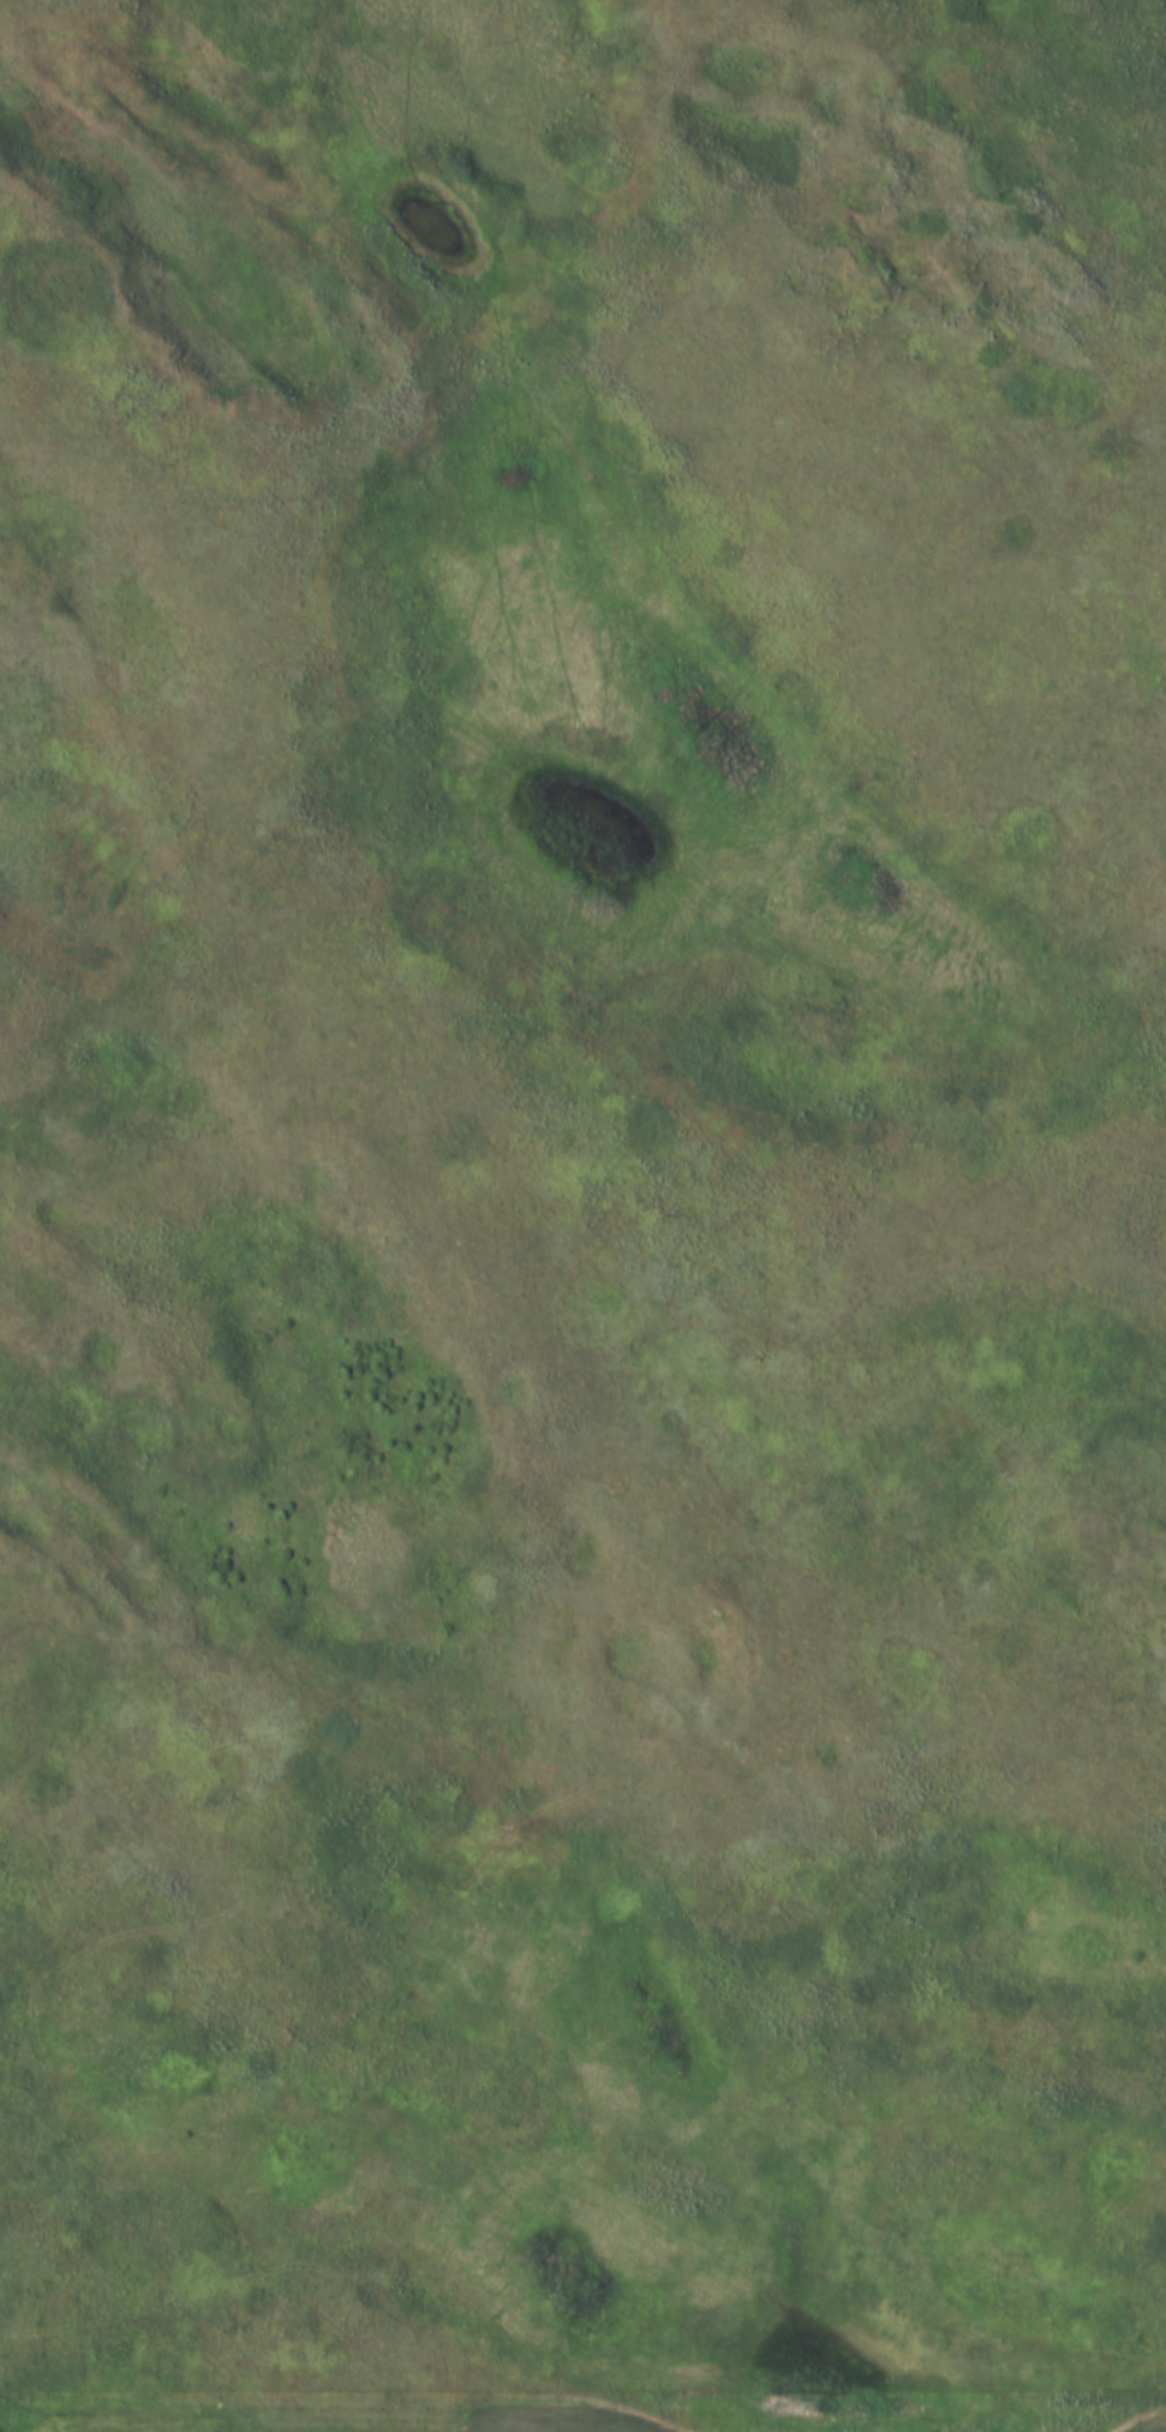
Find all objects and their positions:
road: (582, 2409)

